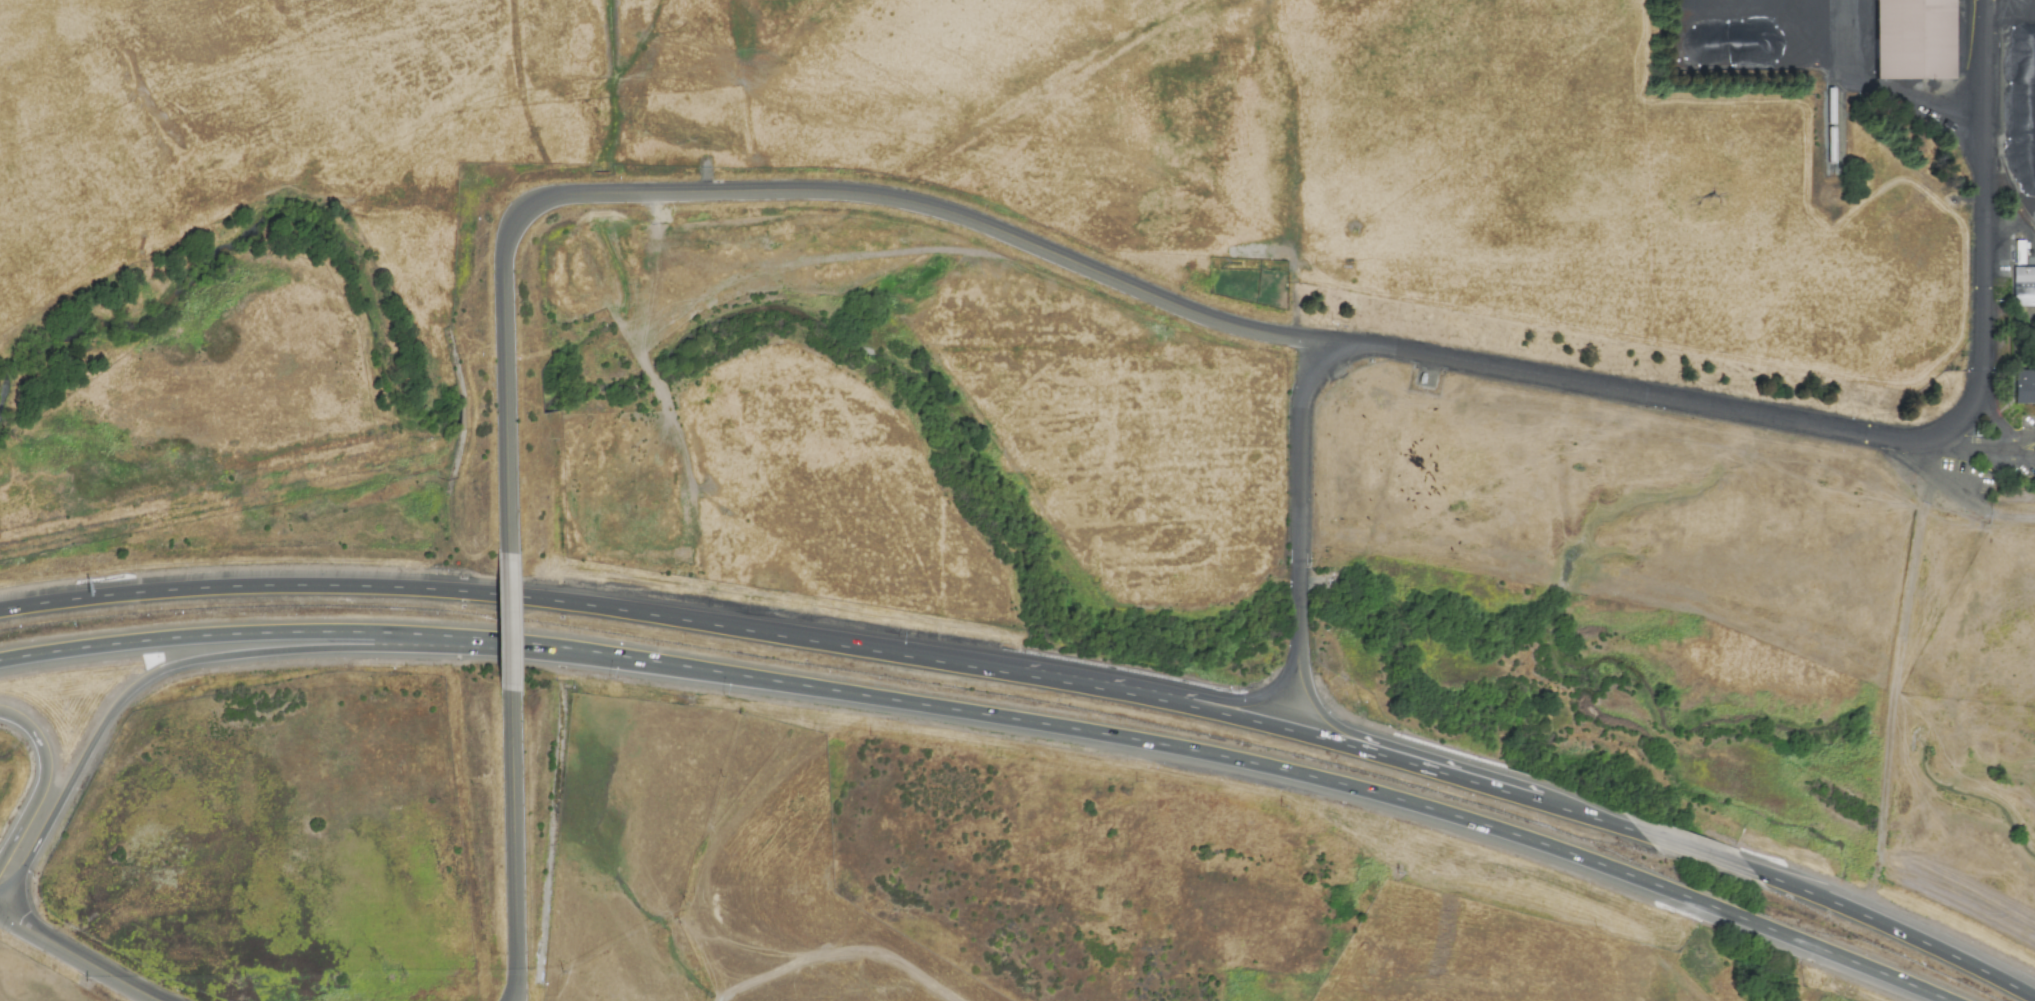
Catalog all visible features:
building: (1913, 39)
railway: (1834, 80)
road: (770, 192)
building: (2023, 286)
building: (2024, 387)
road: (1998, 429)
road: (1865, 432)
road: (1989, 458)
road: (1298, 479)
road: (508, 621)
road: (710, 624)
road: (250, 633)
road: (188, 661)
road: (1253, 703)
road: (1327, 718)
road: (1099, 733)
road: (1441, 772)
road: (41, 781)
road: (1503, 791)
road: (1587, 816)
crop: (687, 844)
road: (512, 845)
road: (1695, 851)
road: (1723, 911)
road: (1895, 930)
road: (1658, 935)
road: (840, 953)
road: (80, 957)
crop: (1514, 958)
road: (1857, 963)
crop: (159, 1000)

